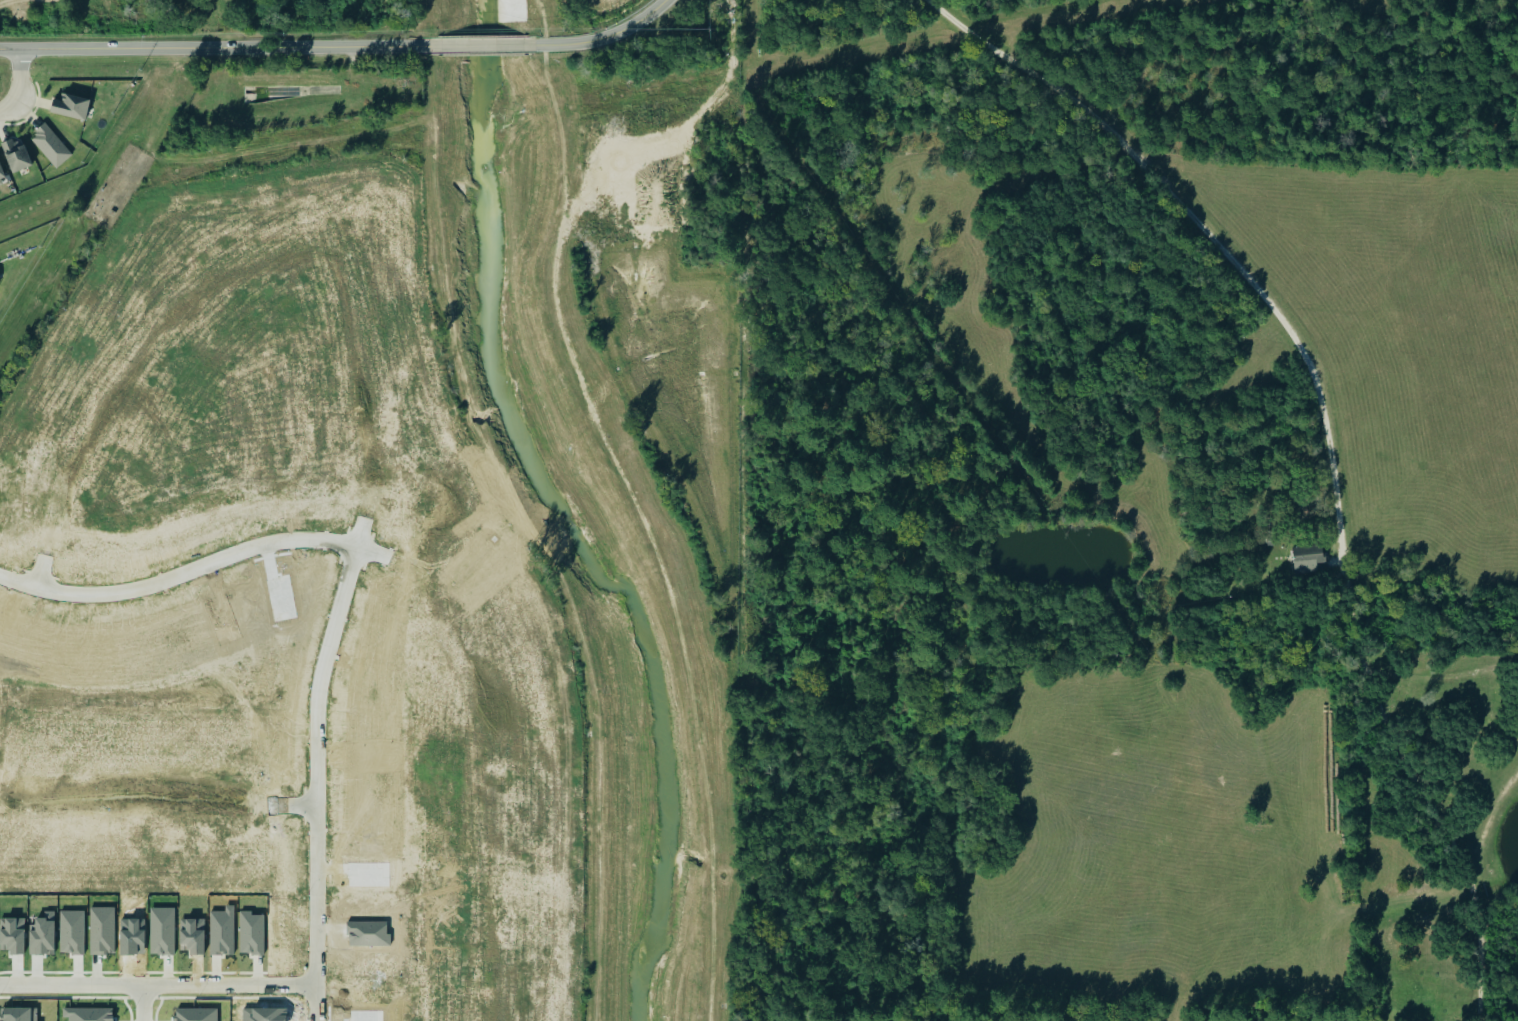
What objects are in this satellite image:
road: (605, 36)
road: (481, 46)
road: (212, 49)
road: (17, 86)
building: (70, 106)
building: (50, 145)
building: (15, 155)
building: (1, 172)
road: (1205, 234)
road: (133, 366)
road: (346, 547)
building: (1305, 558)
park: (5, 659)
road: (202, 984)
road: (142, 1002)
road: (317, 1002)

